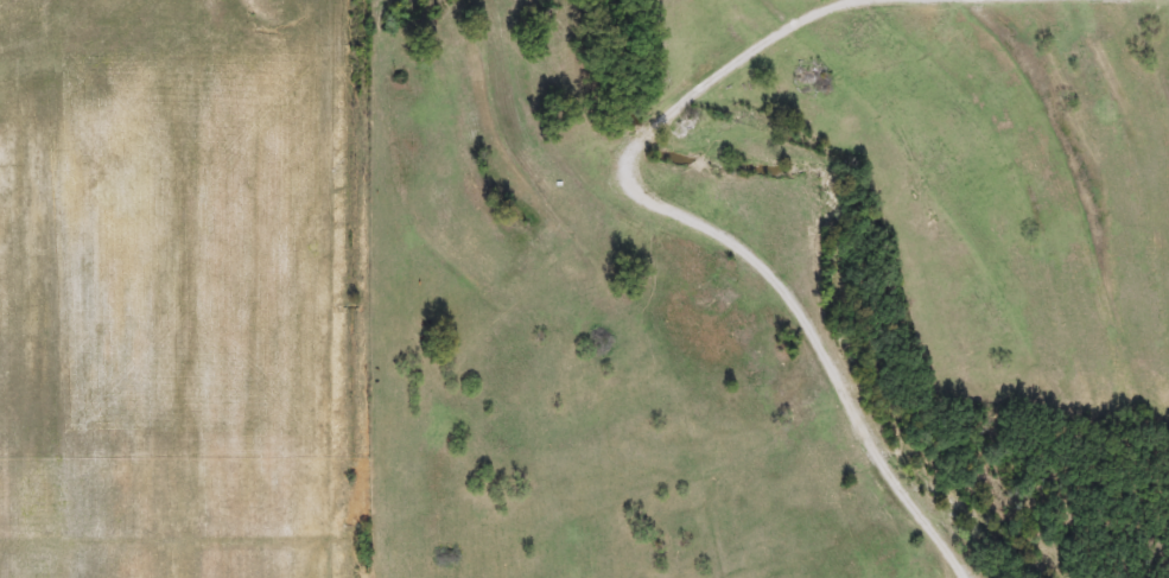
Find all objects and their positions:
road: (720, 235)
airport: (174, 288)

